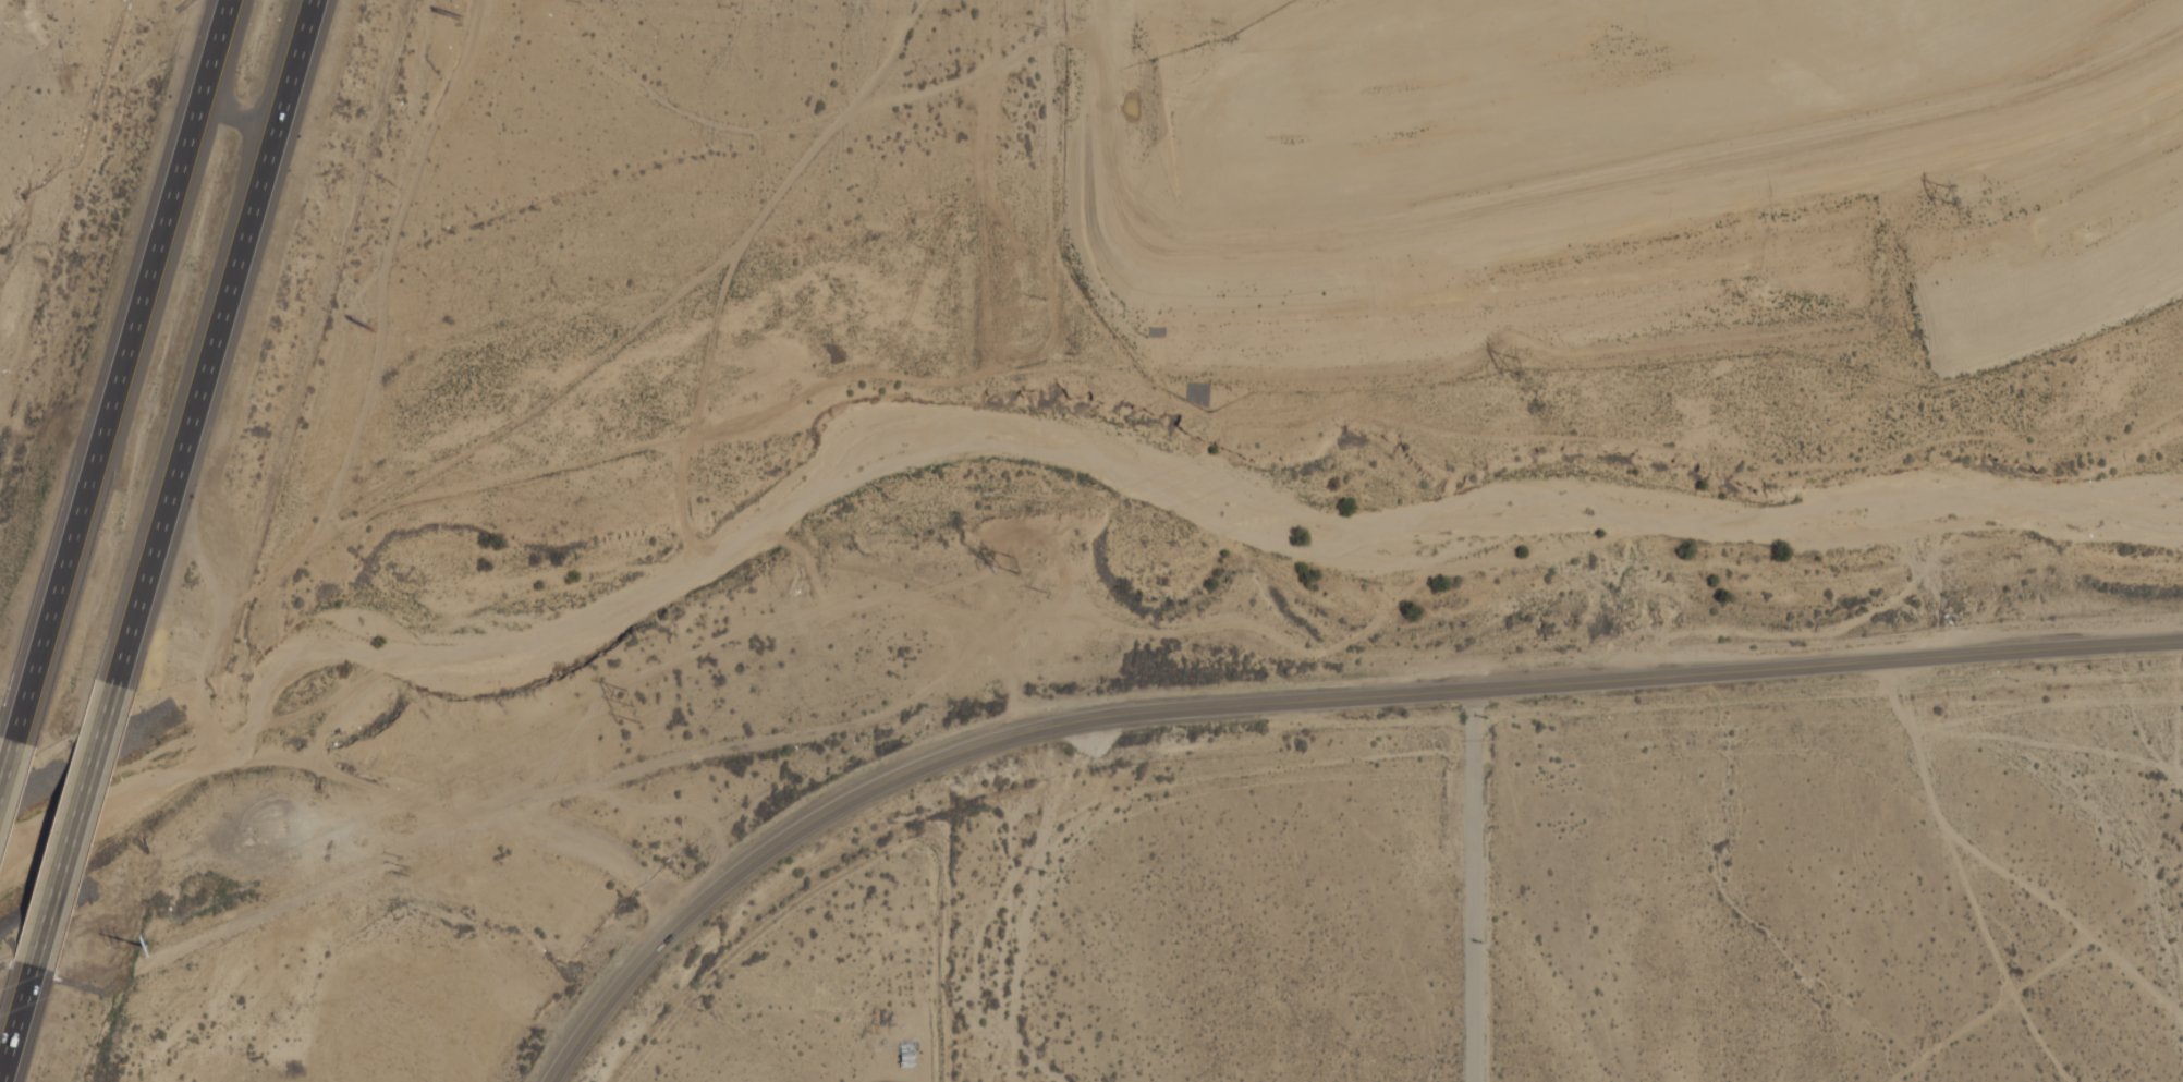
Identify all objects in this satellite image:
road: (241, 120)
power tower: (1948, 191)
power tower: (1515, 362)
road: (215, 367)
road: (119, 390)
power tower: (1012, 558)
road: (1301, 701)
power tower: (633, 705)
road: (83, 826)
road: (1472, 885)
power tower: (146, 946)
road: (33, 999)

